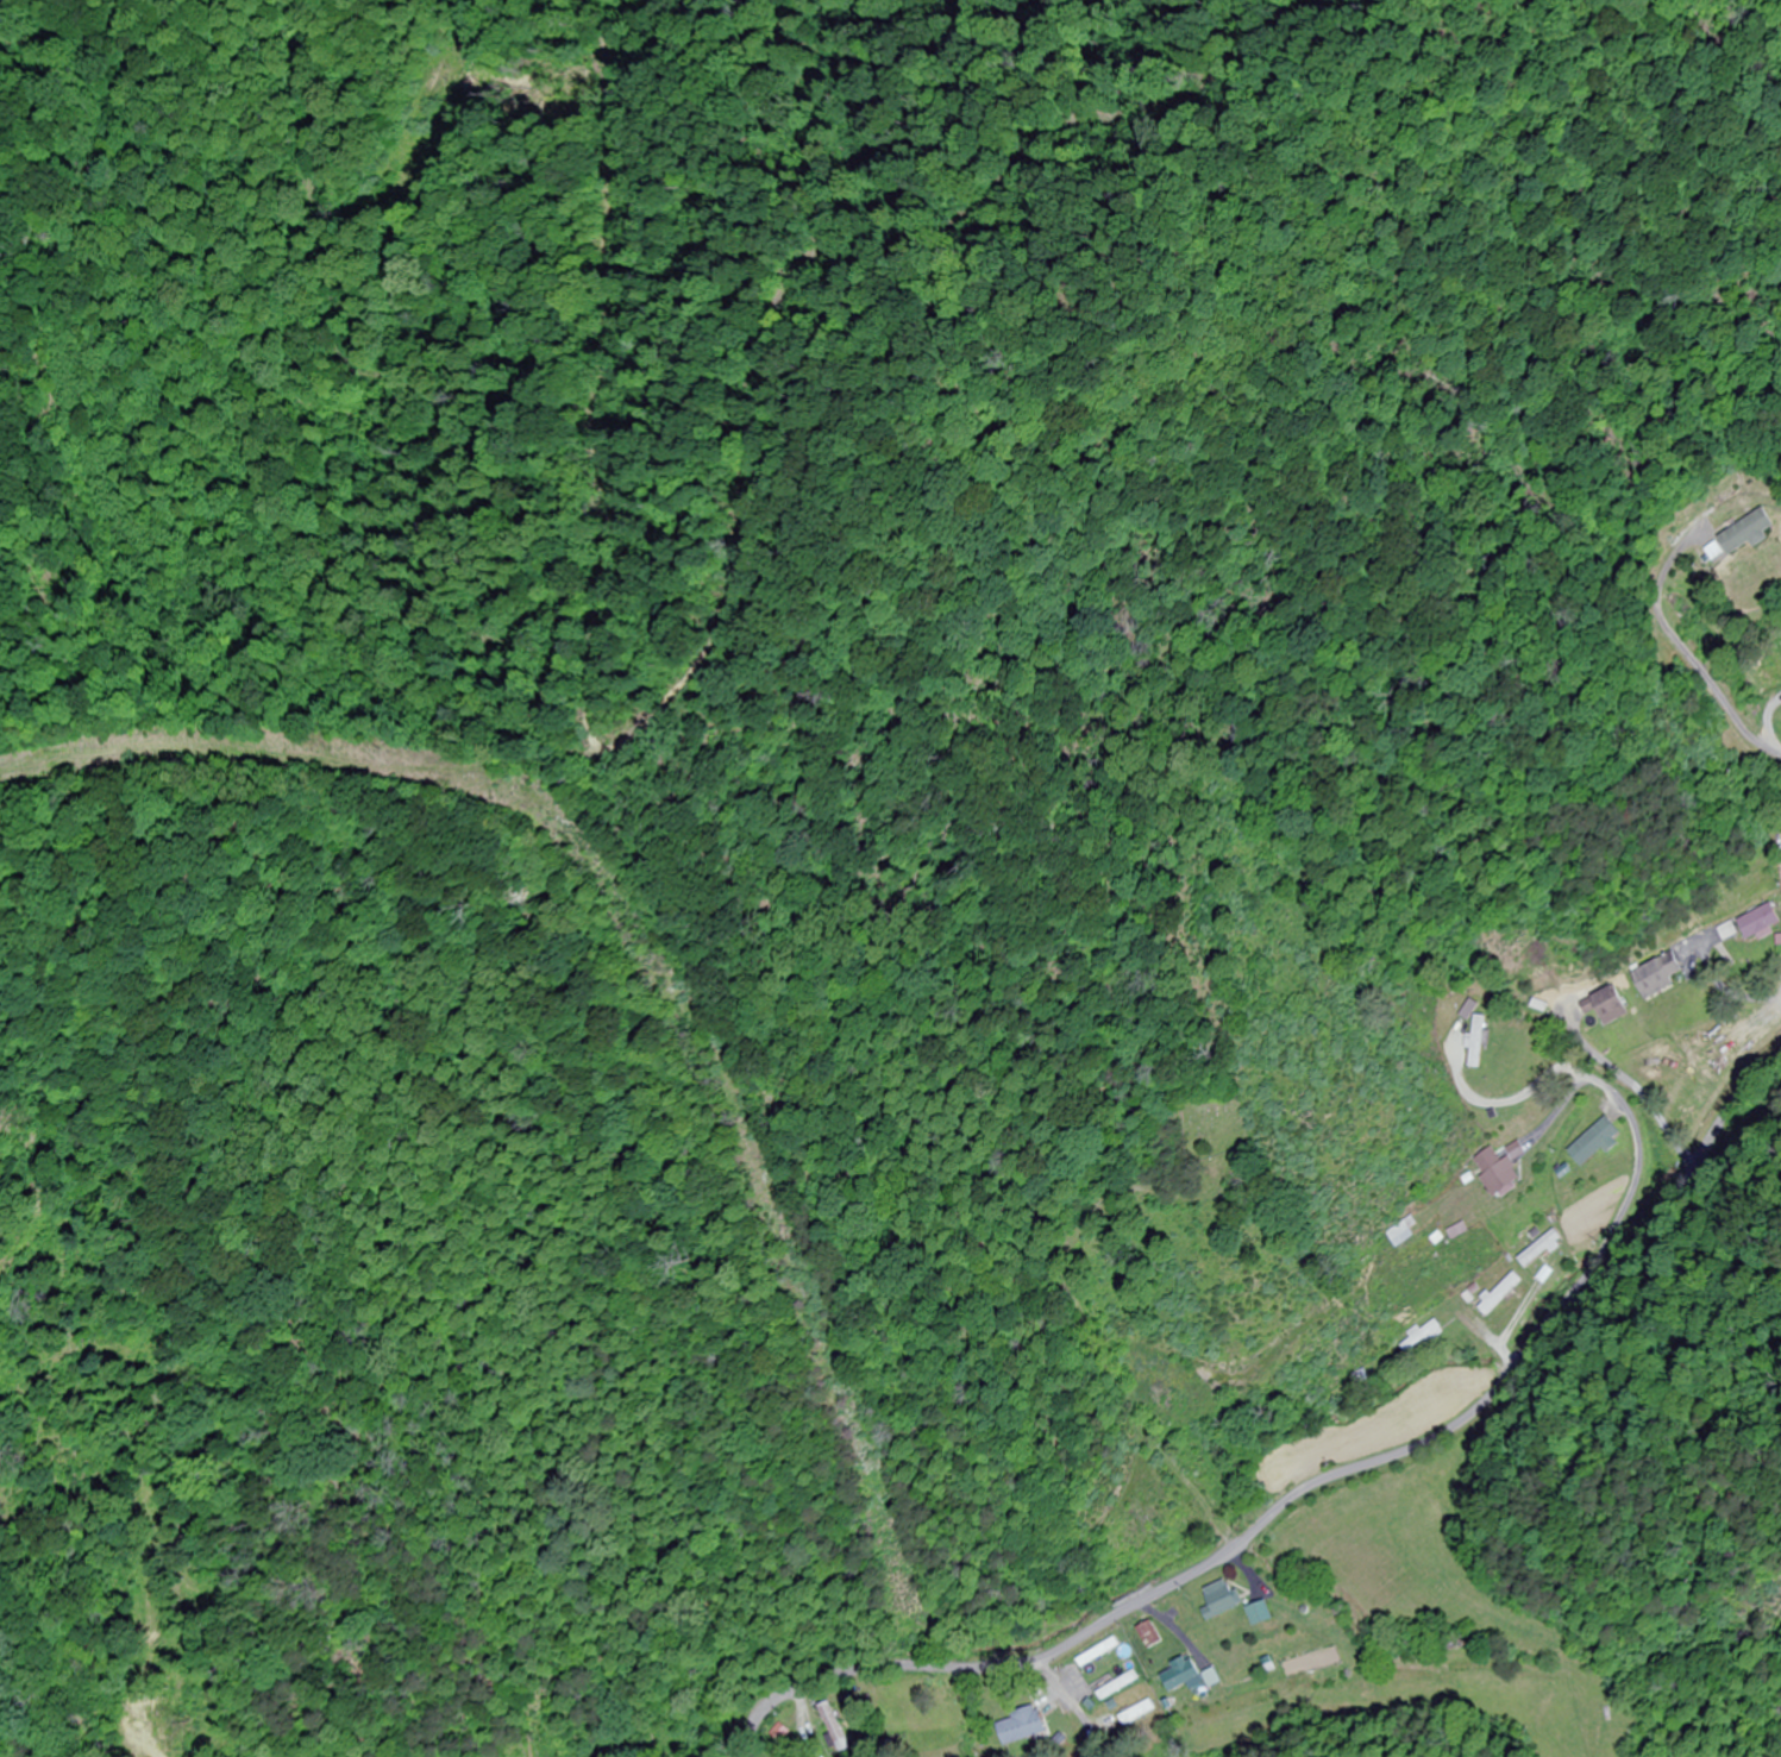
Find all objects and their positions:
building: (1752, 533)
building: (1658, 978)
building: (1608, 1005)
building: (1710, 1034)
building: (1479, 1041)
building: (1597, 1141)
building: (1501, 1173)
building: (1405, 1231)
building: (1539, 1249)
building: (1499, 1294)
building: (1422, 1338)
road: (1265, 1477)
building: (1222, 1599)
building: (1260, 1613)
building: (1149, 1636)
building: (1098, 1651)
building: (1117, 1686)
building: (1135, 1713)
building: (1021, 1726)
building: (833, 1727)

